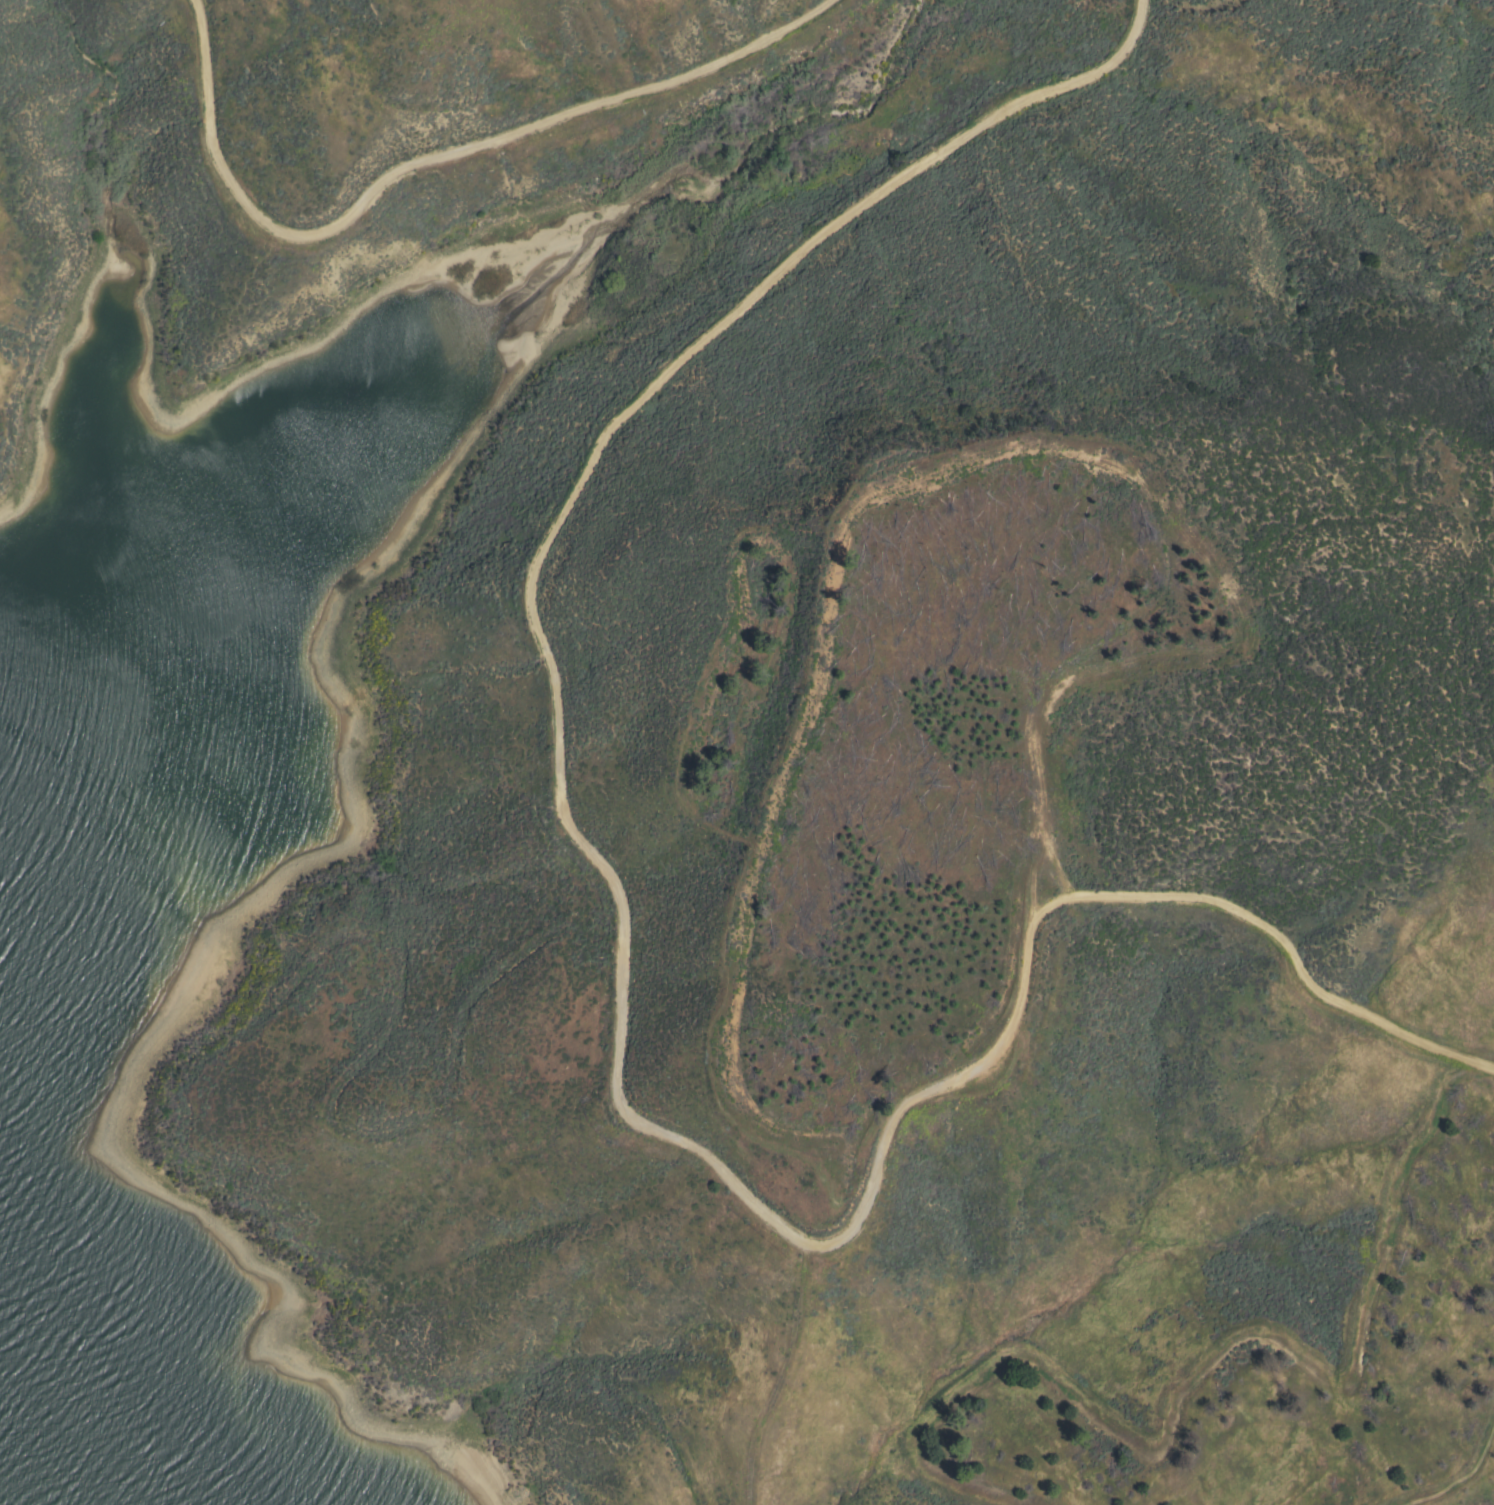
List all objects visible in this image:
road: (610, 93)
road: (235, 186)
park: (485, 750)
road: (619, 997)

